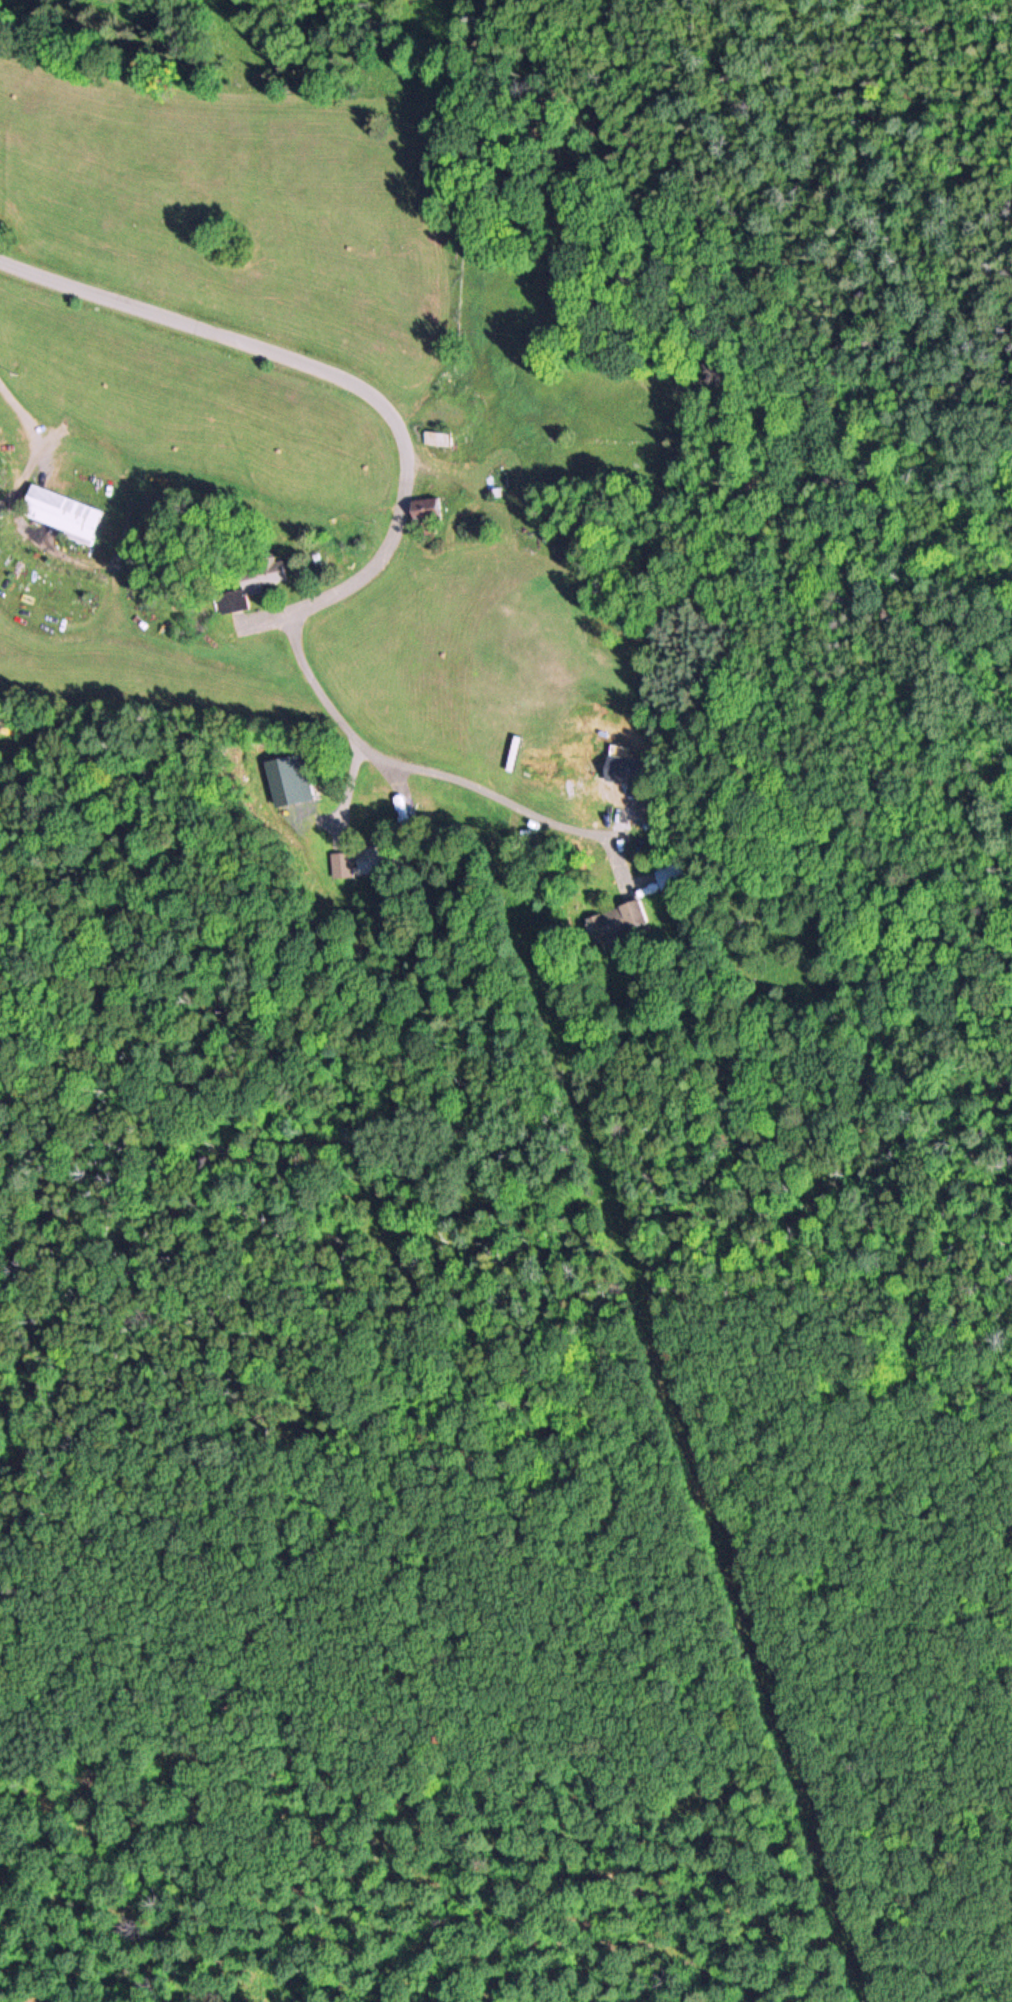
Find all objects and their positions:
road: (319, 372)
building: (56, 511)
building: (250, 581)
road: (262, 620)
road: (410, 771)
building: (358, 861)
building: (671, 875)
building: (617, 922)

